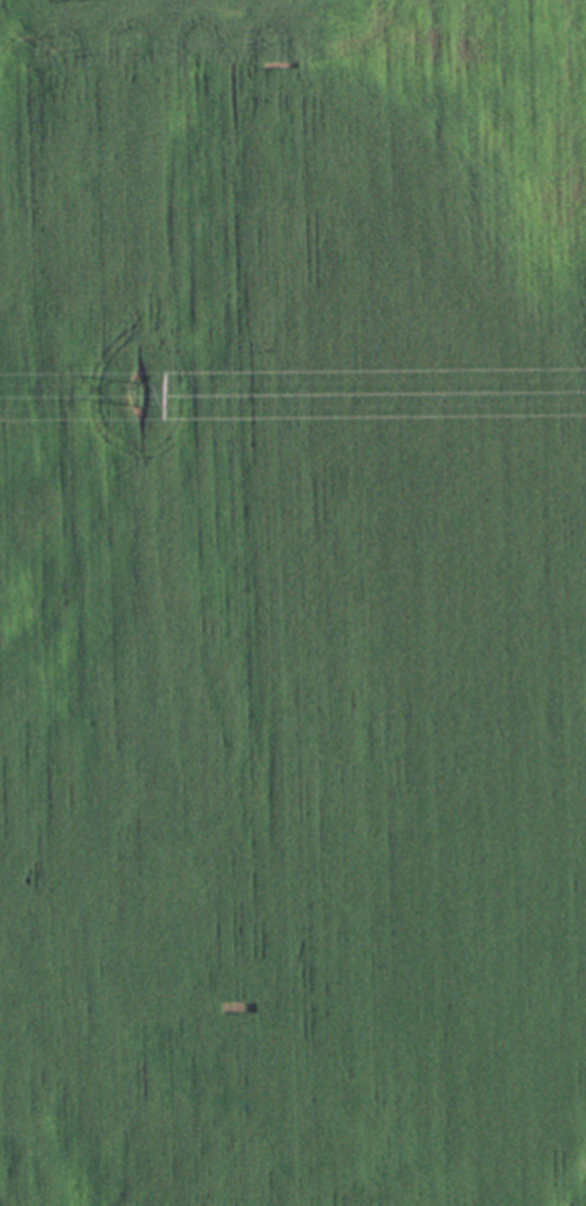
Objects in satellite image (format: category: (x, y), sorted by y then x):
power tower: (137, 397)

